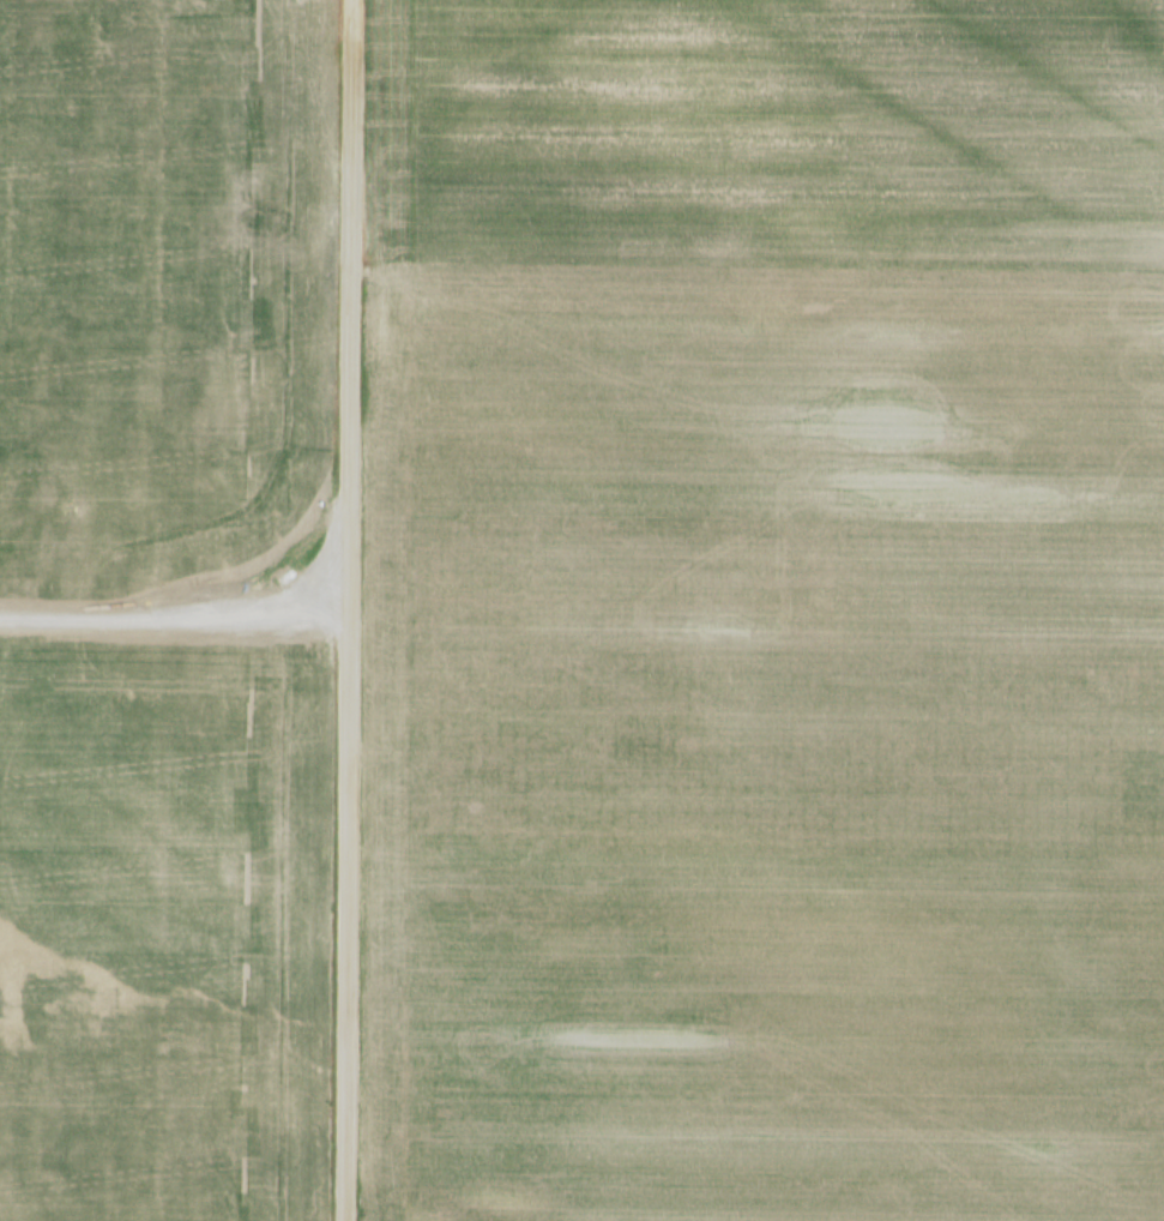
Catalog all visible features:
road: (346, 609)
road: (173, 618)

